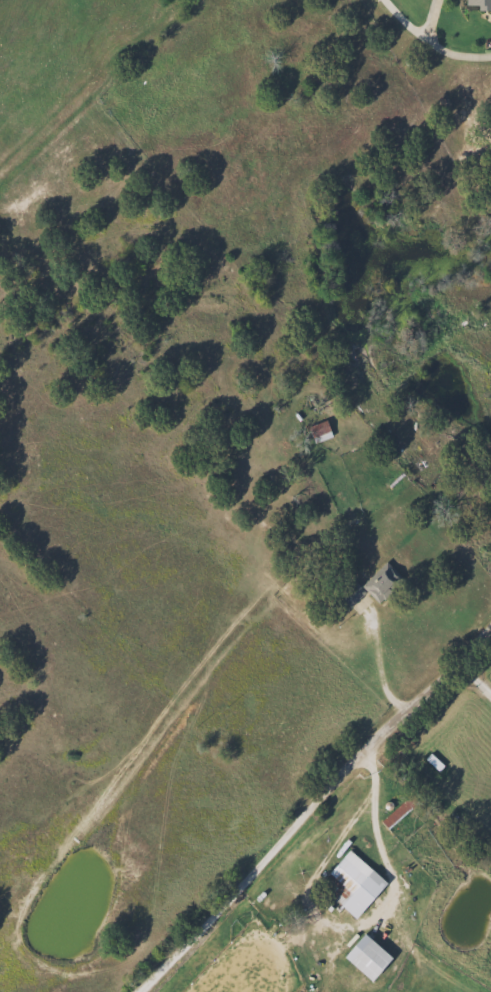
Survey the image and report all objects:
building: (476, 4)
road: (408, 17)
road: (437, 47)
building: (318, 431)
building: (381, 582)
road: (379, 668)
road: (473, 673)
road: (310, 803)
road: (378, 819)
building: (350, 883)
building: (364, 957)

